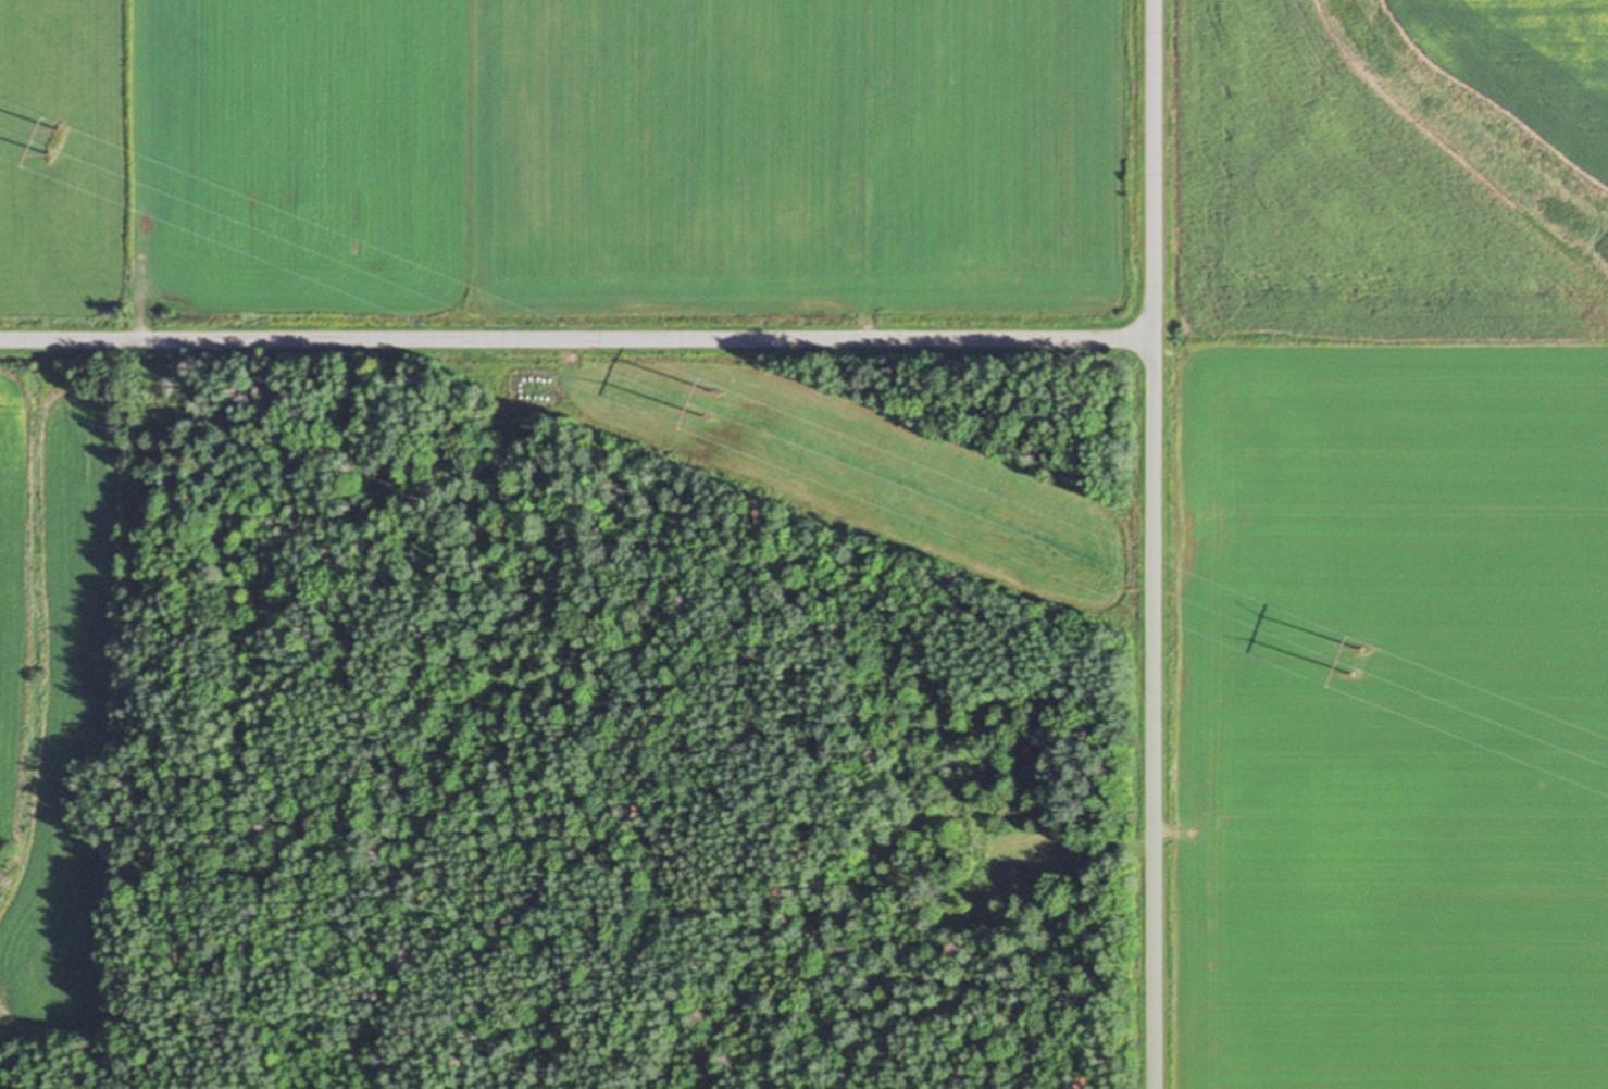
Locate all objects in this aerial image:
power tower: (58, 139)
road: (576, 337)
power tower: (713, 400)
road: (1154, 544)
power tower: (1361, 659)

